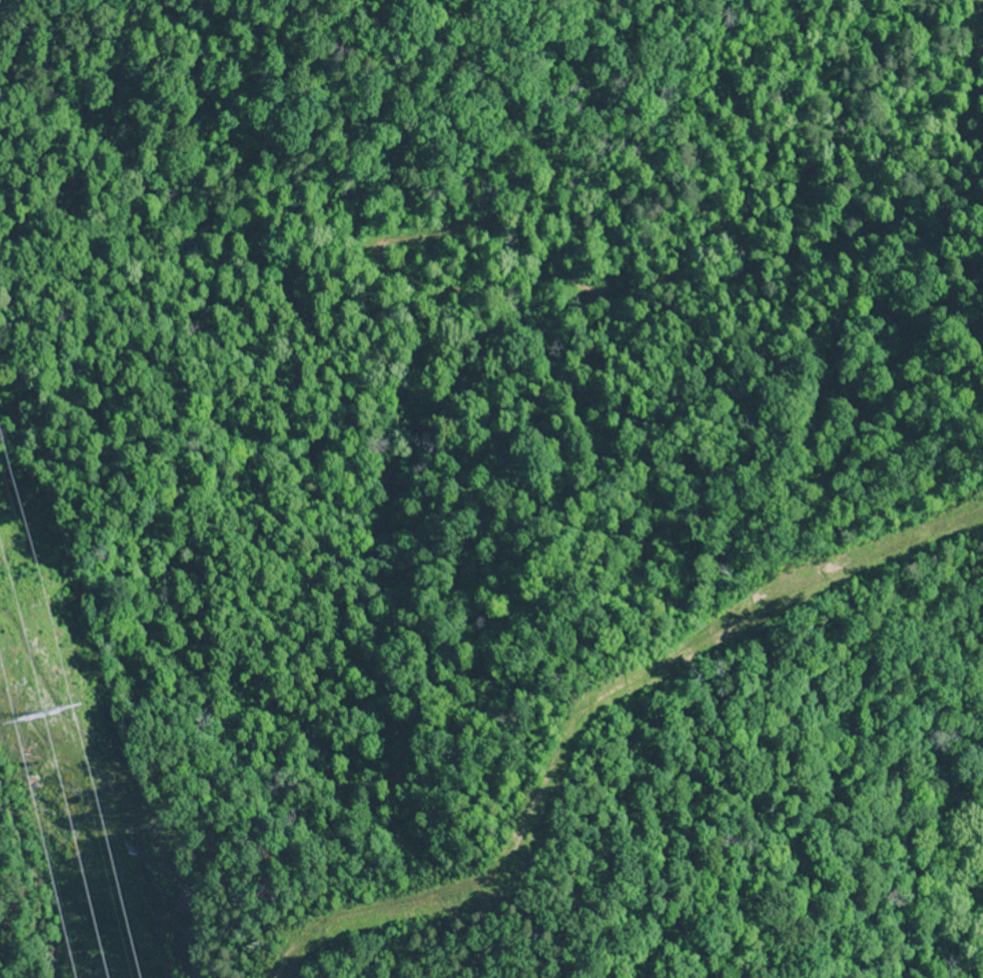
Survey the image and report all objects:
power tower: (52, 744)

